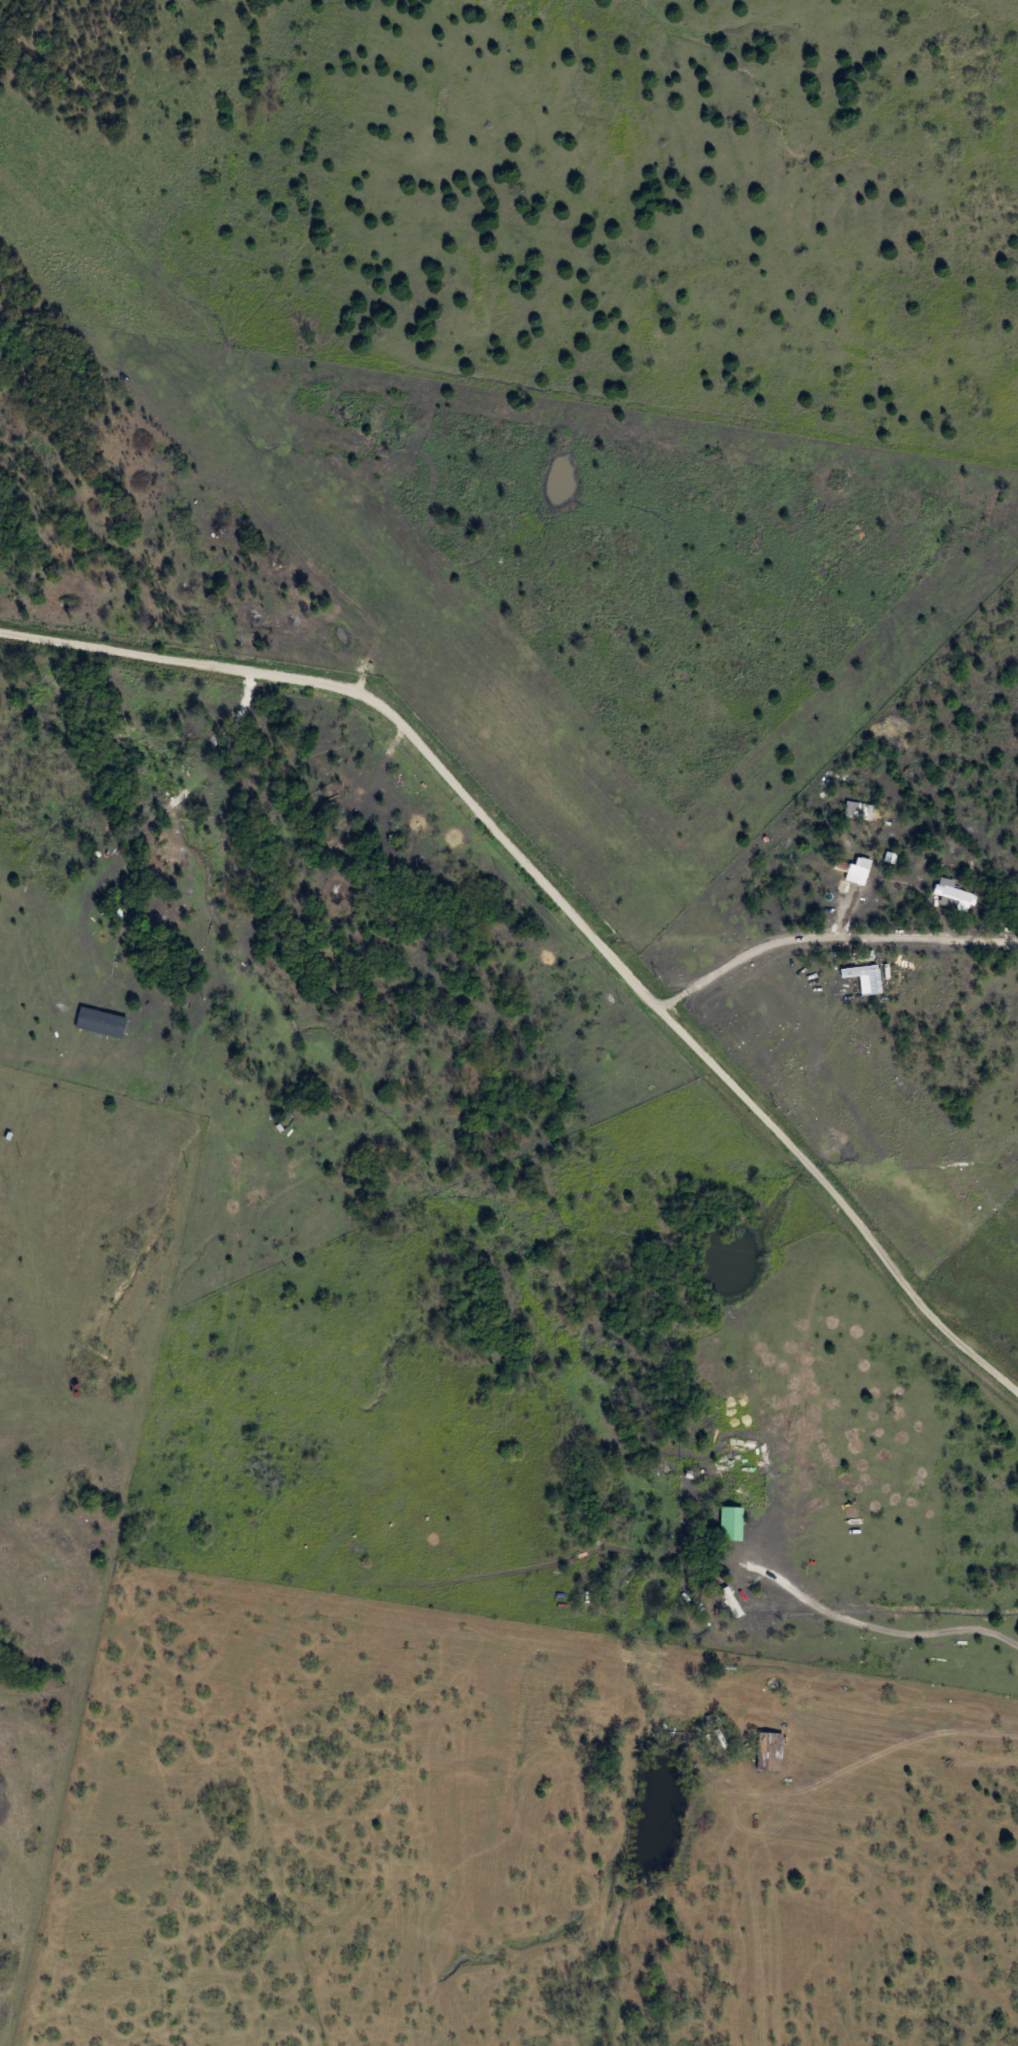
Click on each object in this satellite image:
road: (569, 897)
road: (835, 939)
road: (890, 1629)

